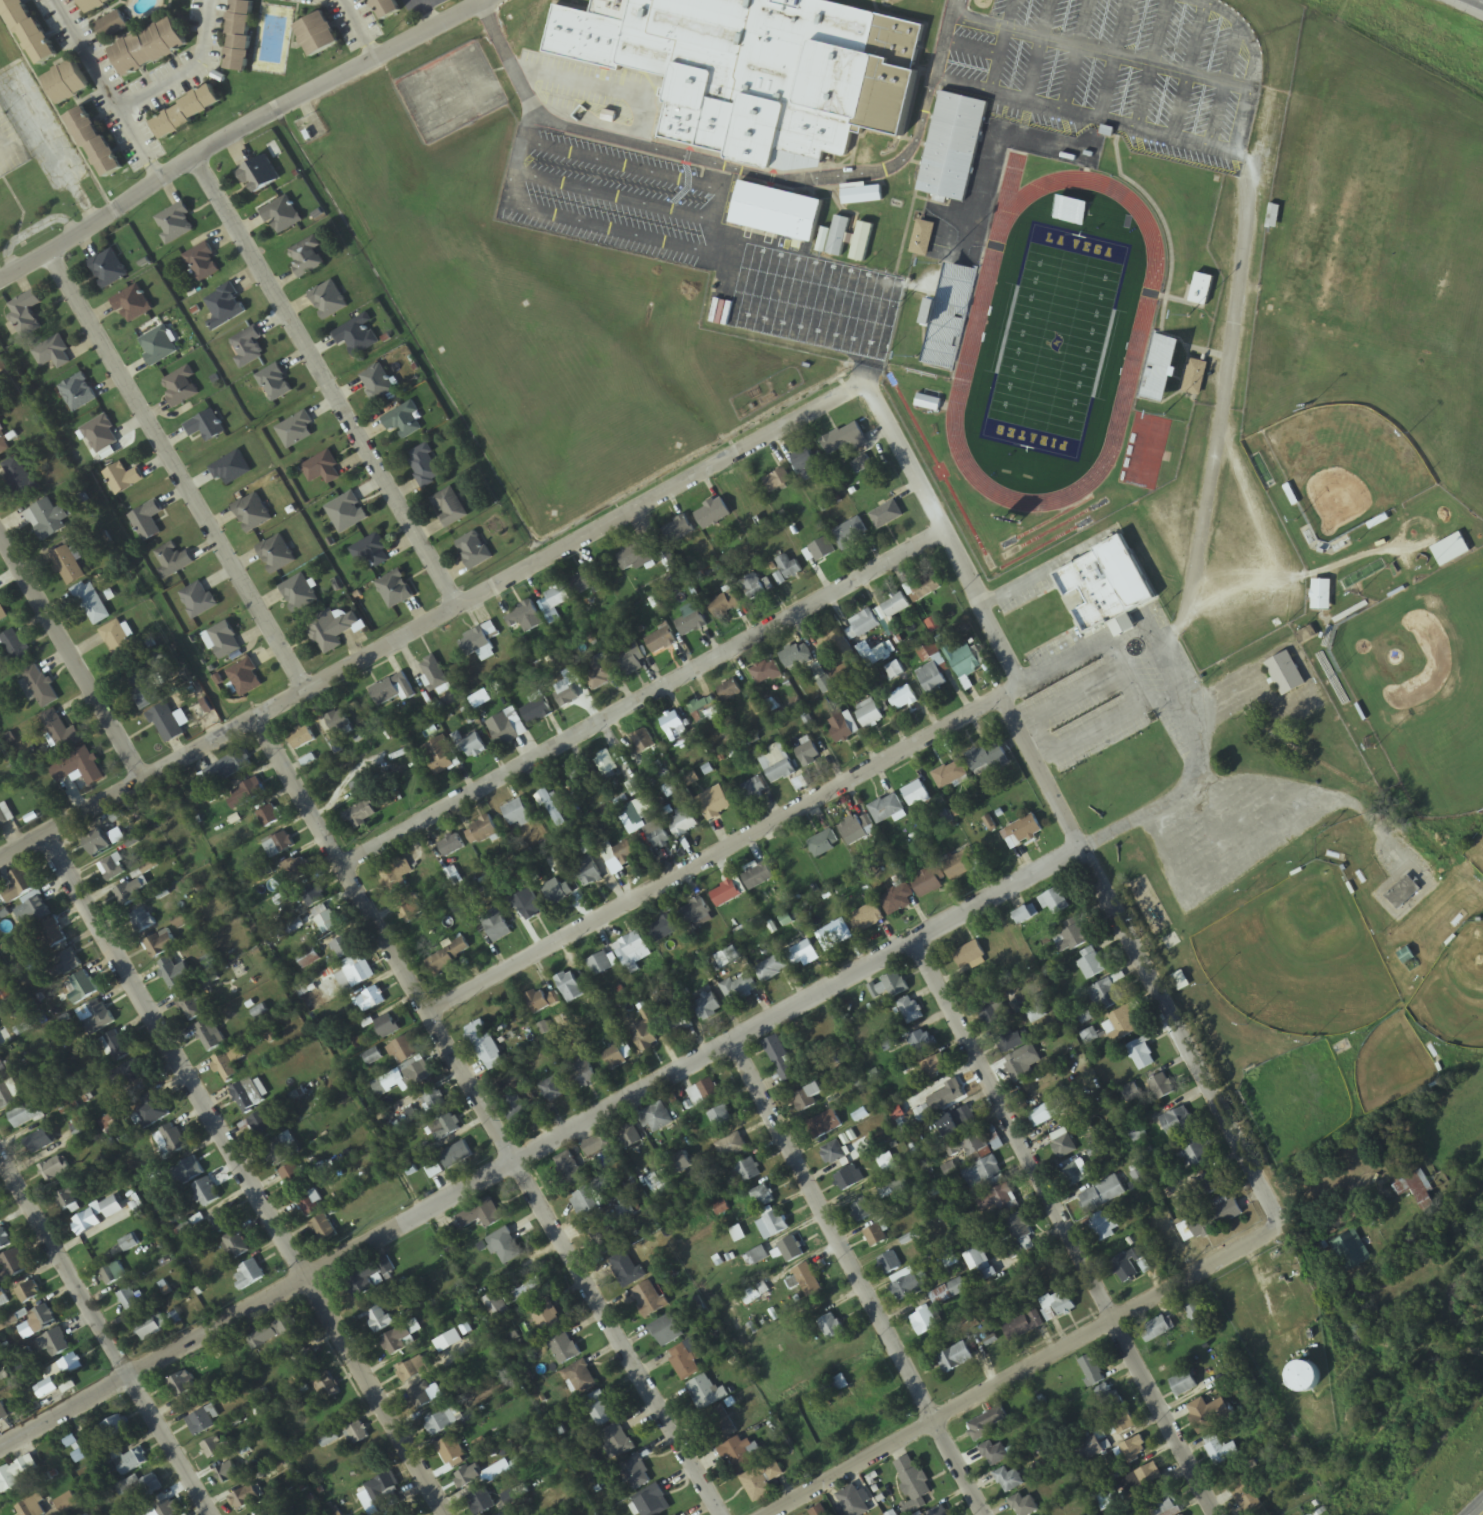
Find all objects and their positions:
building: (94, 4)
building: (385, 8)
building: (111, 25)
building: (28, 31)
building: (317, 34)
building: (239, 35)
building: (148, 47)
building: (759, 70)
building: (66, 82)
building: (186, 112)
road: (235, 126)
building: (94, 142)
building: (952, 147)
road: (1, 151)
building: (259, 175)
building: (862, 194)
building: (776, 212)
building: (281, 216)
building: (1273, 216)
building: (175, 223)
building: (838, 237)
building: (922, 238)
building: (861, 243)
building: (306, 258)
building: (202, 263)
building: (108, 269)
building: (328, 300)
building: (131, 305)
building: (224, 307)
building: (24, 313)
building: (949, 316)
building: (356, 337)
park: (1054, 338)
building: (157, 346)
building: (247, 348)
building: (52, 353)
building: (1161, 357)
building: (2, 368)
building: (1195, 377)
building: (274, 383)
building: (377, 383)
road: (325, 384)
building: (179, 388)
building: (78, 393)
building: (928, 403)
building: (403, 421)
building: (205, 427)
building: (296, 431)
building: (100, 435)
building: (844, 440)
building: (3, 441)
building: (809, 462)
building: (861, 465)
building: (424, 466)
building: (322, 469)
building: (230, 470)
road: (176, 472)
building: (19, 478)
building: (122, 479)
building: (777, 481)
building: (448, 508)
building: (251, 513)
building: (346, 513)
building: (712, 514)
building: (886, 515)
building: (46, 519)
building: (146, 521)
building: (678, 530)
building: (851, 534)
building: (822, 550)
building: (1450, 550)
building: (474, 551)
building: (370, 552)
building: (276, 554)
building: (633, 557)
building: (172, 560)
building: (669, 561)
building: (67, 566)
building: (788, 567)
building: (585, 581)
building: (1103, 584)
building: (753, 588)
building: (926, 588)
building: (395, 590)
building: (298, 594)
building: (1321, 595)
building: (556, 598)
building: (198, 600)
building: (91, 604)
building: (724, 604)
building: (896, 606)
building: (2, 615)
building: (524, 618)
building: (691, 620)
building: (864, 624)
road: (424, 625)
park: (1301, 629)
building: (331, 631)
building: (224, 640)
building: (660, 641)
building: (118, 642)
building: (477, 645)
building: (836, 646)
building: (16, 648)
building: (927, 652)
building: (871, 654)
building: (795, 656)
road: (71, 660)
building: (631, 660)
building: (964, 661)
road: (1077, 661)
building: (894, 670)
building: (432, 673)
building: (766, 673)
building: (1285, 674)
building: (599, 675)
building: (245, 678)
building: (931, 678)
building: (37, 687)
building: (392, 691)
building: (729, 691)
building: (143, 692)
building: (565, 694)
road: (629, 699)
building: (902, 699)
building: (536, 709)
building: (704, 710)
building: (869, 715)
building: (165, 724)
building: (338, 724)
building: (674, 727)
building: (839, 728)
building: (501, 729)
building: (61, 733)
building: (301, 739)
building: (642, 743)
building: (472, 747)
building: (808, 754)
building: (440, 756)
building: (987, 759)
building: (776, 764)
building: (606, 766)
building: (77, 768)
building: (225, 770)
building: (950, 775)
building: (581, 777)
building: (753, 789)
building: (245, 794)
building: (915, 795)
building: (714, 804)
building: (551, 807)
road: (1056, 807)
building: (886, 809)
building: (516, 813)
building: (269, 816)
building: (360, 816)
building: (3, 820)
building: (683, 824)
building: (484, 829)
building: (857, 830)
building: (1021, 832)
building: (659, 839)
building: (96, 843)
building: (824, 845)
building: (278, 846)
building: (451, 846)
building: (623, 856)
road: (713, 856)
building: (111, 869)
building: (296, 870)
building: (587, 871)
building: (943, 874)
building: (396, 877)
building: (757, 877)
building: (18, 886)
building: (129, 893)
building: (1402, 893)
building: (725, 894)
building: (558, 895)
building: (312, 896)
building: (897, 901)
building: (1054, 903)
building: (524, 906)
building: (38, 909)
building: (694, 912)
building: (411, 913)
building: (1023, 916)
building: (866, 918)
building: (142, 921)
building: (327, 923)
building: (495, 926)
building: (662, 929)
building: (52, 933)
building: (834, 936)
building: (1072, 939)
building: (160, 945)
building: (342, 948)
building: (630, 953)
building: (803, 955)
building: (969, 956)
building: (1407, 958)
building: (445, 959)
building: (63, 964)
building: (601, 964)
building: (1090, 964)
building: (772, 969)
building: (352, 973)
building: (175, 974)
building: (892, 986)
building: (569, 987)
building: (81, 989)
building: (739, 990)
building: (674, 996)
building: (1105, 996)
building: (370, 1000)
building: (537, 1001)
building: (190, 1005)
building: (707, 1007)
building: (909, 1011)
building: (95, 1017)
building: (991, 1017)
building: (678, 1022)
building: (386, 1026)
building: (211, 1035)
building: (644, 1038)
building: (1012, 1040)
building: (922, 1042)
building: (485, 1046)
building: (116, 1047)
building: (401, 1050)
building: (777, 1053)
building: (1142, 1055)
building: (372, 1057)
building: (615, 1058)
building: (229, 1063)
building: (1020, 1063)
building: (935, 1067)
building: (582, 1074)
building: (408, 1077)
building: (1161, 1088)
building: (4, 1089)
building: (551, 1091)
building: (703, 1093)
building: (248, 1096)
building: (808, 1098)
building: (434, 1102)
building: (515, 1109)
building: (151, 1112)
building: (1050, 1112)
building: (26, 1116)
road: (488, 1117)
building: (720, 1118)
building: (962, 1118)
building: (657, 1119)
building: (1178, 1123)
building: (824, 1126)
building: (262, 1127)
building: (445, 1128)
building: (630, 1136)
building: (171, 1142)
building: (39, 1143)
building: (969, 1145)
building: (597, 1146)
road: (539, 1147)
building: (731, 1147)
building: (1064, 1148)
building: (833, 1154)
building: (455, 1157)
building: (1195, 1157)
building: (681, 1165)
building: (54, 1169)
building: (568, 1171)
building: (187, 1172)
building: (748, 1172)
building: (1076, 1174)
road: (247, 1175)
building: (294, 1179)
building: (849, 1179)
building: (661, 1184)
building: (1211, 1184)
building: (1416, 1189)
building: (204, 1194)
building: (1102, 1195)
building: (763, 1197)
building: (591, 1198)
building: (69, 1199)
building: (997, 1199)
building: (309, 1204)
building: (1186, 1204)
building: (862, 1212)
building: (481, 1216)
building: (222, 1221)
building: (1211, 1221)
building: (86, 1223)
building: (773, 1226)
road: (1063, 1226)
building: (1105, 1228)
building: (324, 1232)
building: (1020, 1234)
building: (875, 1237)
building: (606, 1239)
building: (4, 1241)
building: (236, 1245)
building: (993, 1247)
building: (98, 1248)
building: (505, 1248)
building: (791, 1250)
building: (1353, 1251)
building: (758, 1257)
building: (976, 1260)
building: (889, 1264)
building: (13, 1265)
building: (1129, 1266)
building: (627, 1270)
building: (112, 1274)
building: (249, 1275)
road: (860, 1278)
building: (805, 1281)
building: (365, 1282)
building: (911, 1286)
building: (523, 1292)
building: (950, 1292)
building: (28, 1293)
building: (755, 1294)
building: (650, 1299)
building: (129, 1300)
building: (1058, 1306)
building: (496, 1309)
building: (1197, 1310)
building: (42, 1318)
building: (546, 1318)
building: (378, 1319)
building: (924, 1322)
building: (1024, 1326)
building: (831, 1327)
building: (147, 1329)
building: (1157, 1329)
building: (667, 1331)
road: (106, 1333)
building: (274, 1333)
building: (396, 1341)
building: (56, 1343)
building: (564, 1349)
building: (956, 1358)
building: (304, 1361)
building: (686, 1361)
road: (1013, 1366)
building: (1093, 1369)
building: (411, 1371)
building: (59, 1376)
building: (581, 1379)
building: (1304, 1379)
building: (1184, 1385)
building: (182, 1386)
building: (326, 1388)
building: (706, 1394)
building: (422, 1396)
building: (1111, 1403)
building: (861, 1409)
building: (600, 1410)
building: (2, 1413)
building: (1202, 1422)
building: (200, 1424)
building: (441, 1424)
building: (986, 1424)
building: (1121, 1424)
building: (720, 1425)
building: (112, 1429)
building: (618, 1442)
building: (1091, 1448)
building: (213, 1449)
building: (1134, 1450)
building: (451, 1453)
building: (1222, 1453)
building: (994, 1454)
building: (743, 1455)
building: (131, 1463)
building: (636, 1473)
building: (227, 1474)
building: (14, 1476)
building: (468, 1478)
building: (1009, 1481)
building: (1142, 1481)
building: (761, 1482)
building: (912, 1484)
building: (150, 1486)
building: (381, 1487)
building: (1246, 1497)
building: (244, 1500)
building: (652, 1502)
building: (853, 1502)
building: (481, 1503)
building: (66, 1504)
building: (1023, 1506)
building: (1162, 1506)
building: (32, 1508)
building: (164, 1510)
building: (819, 1512)
building: (938, 1512)
building: (266, 1513)
road: (1482, 1514)

